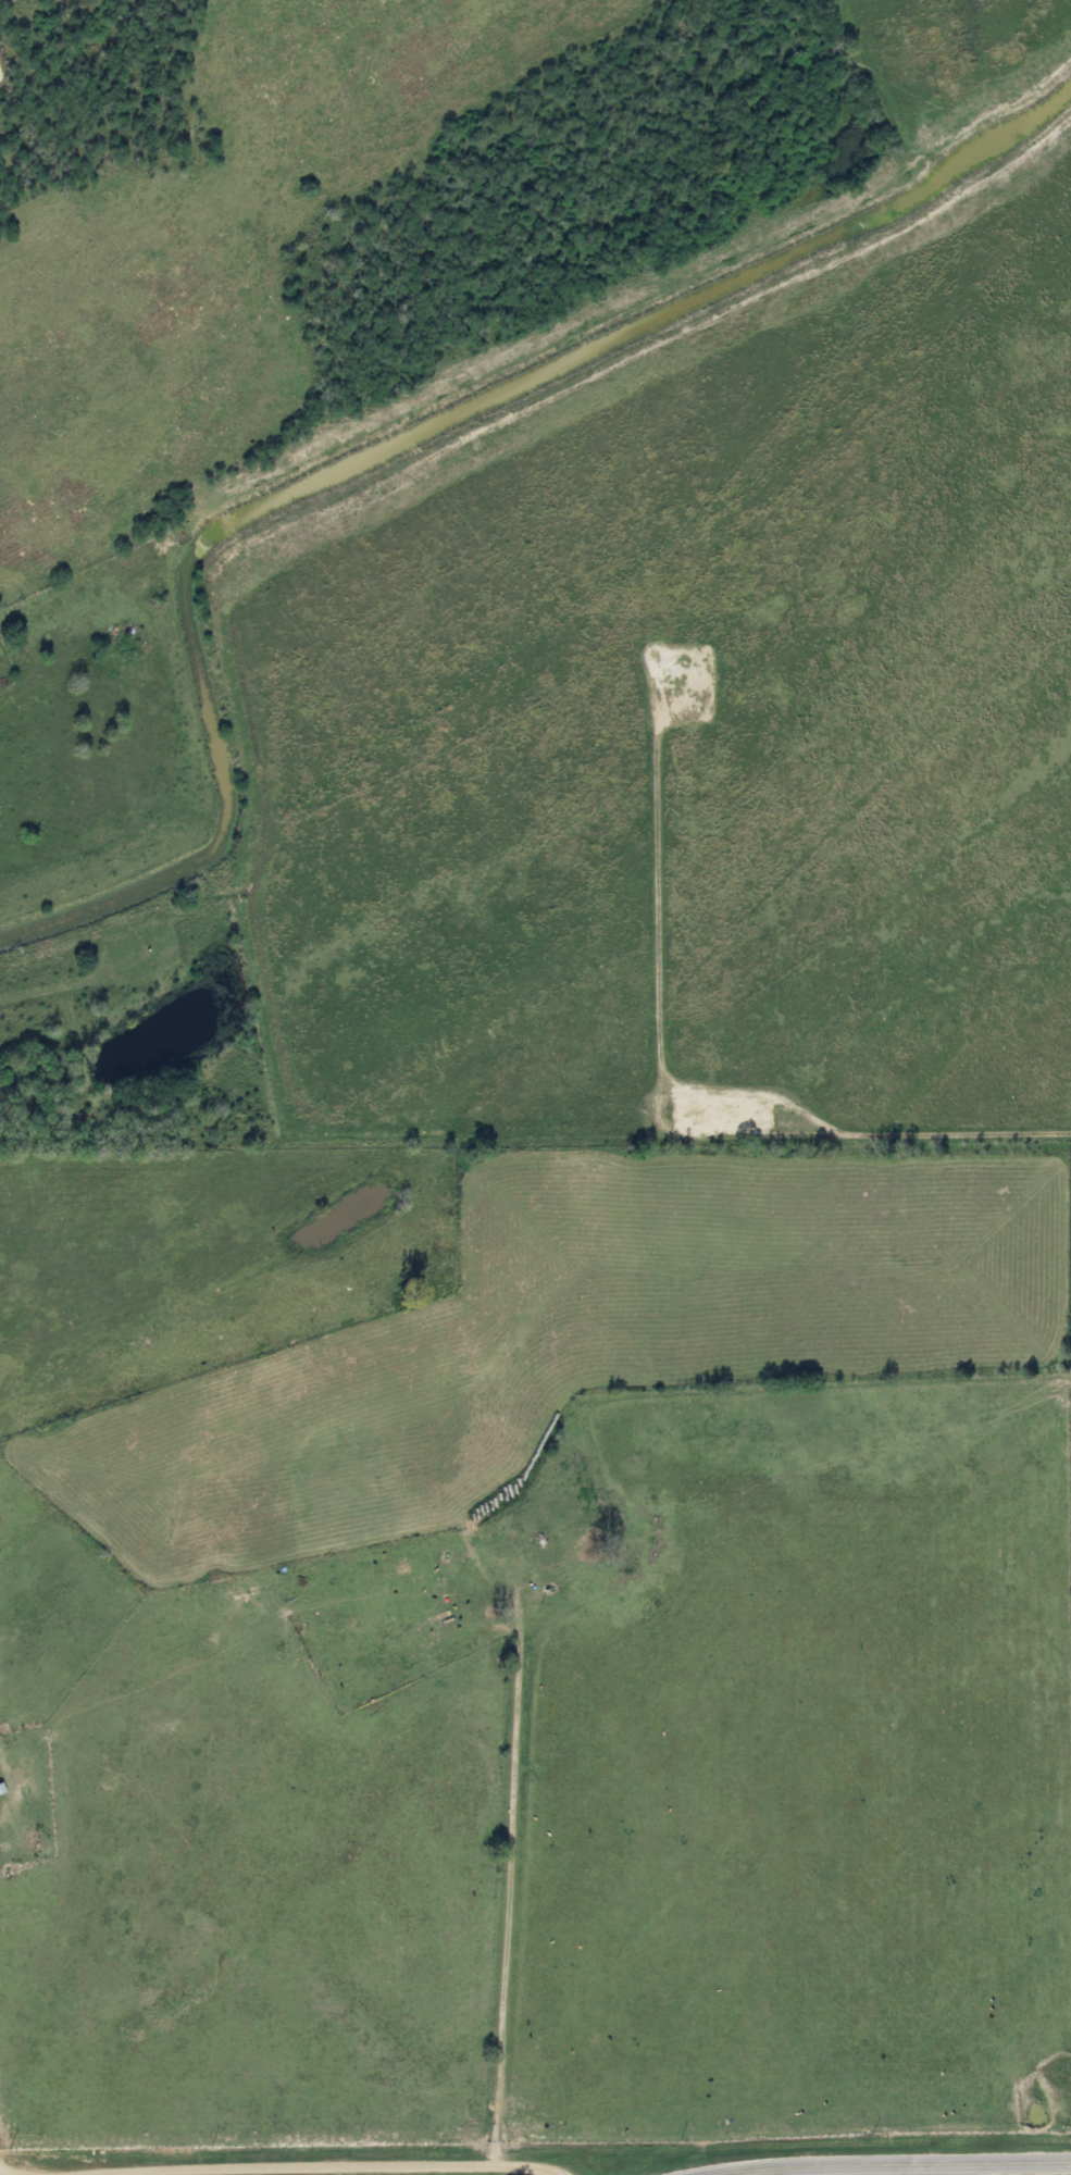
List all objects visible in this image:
road: (655, 883)
road: (806, 1113)
road: (956, 1132)
road: (870, 2161)
road: (321, 2166)
road: (4, 2171)

